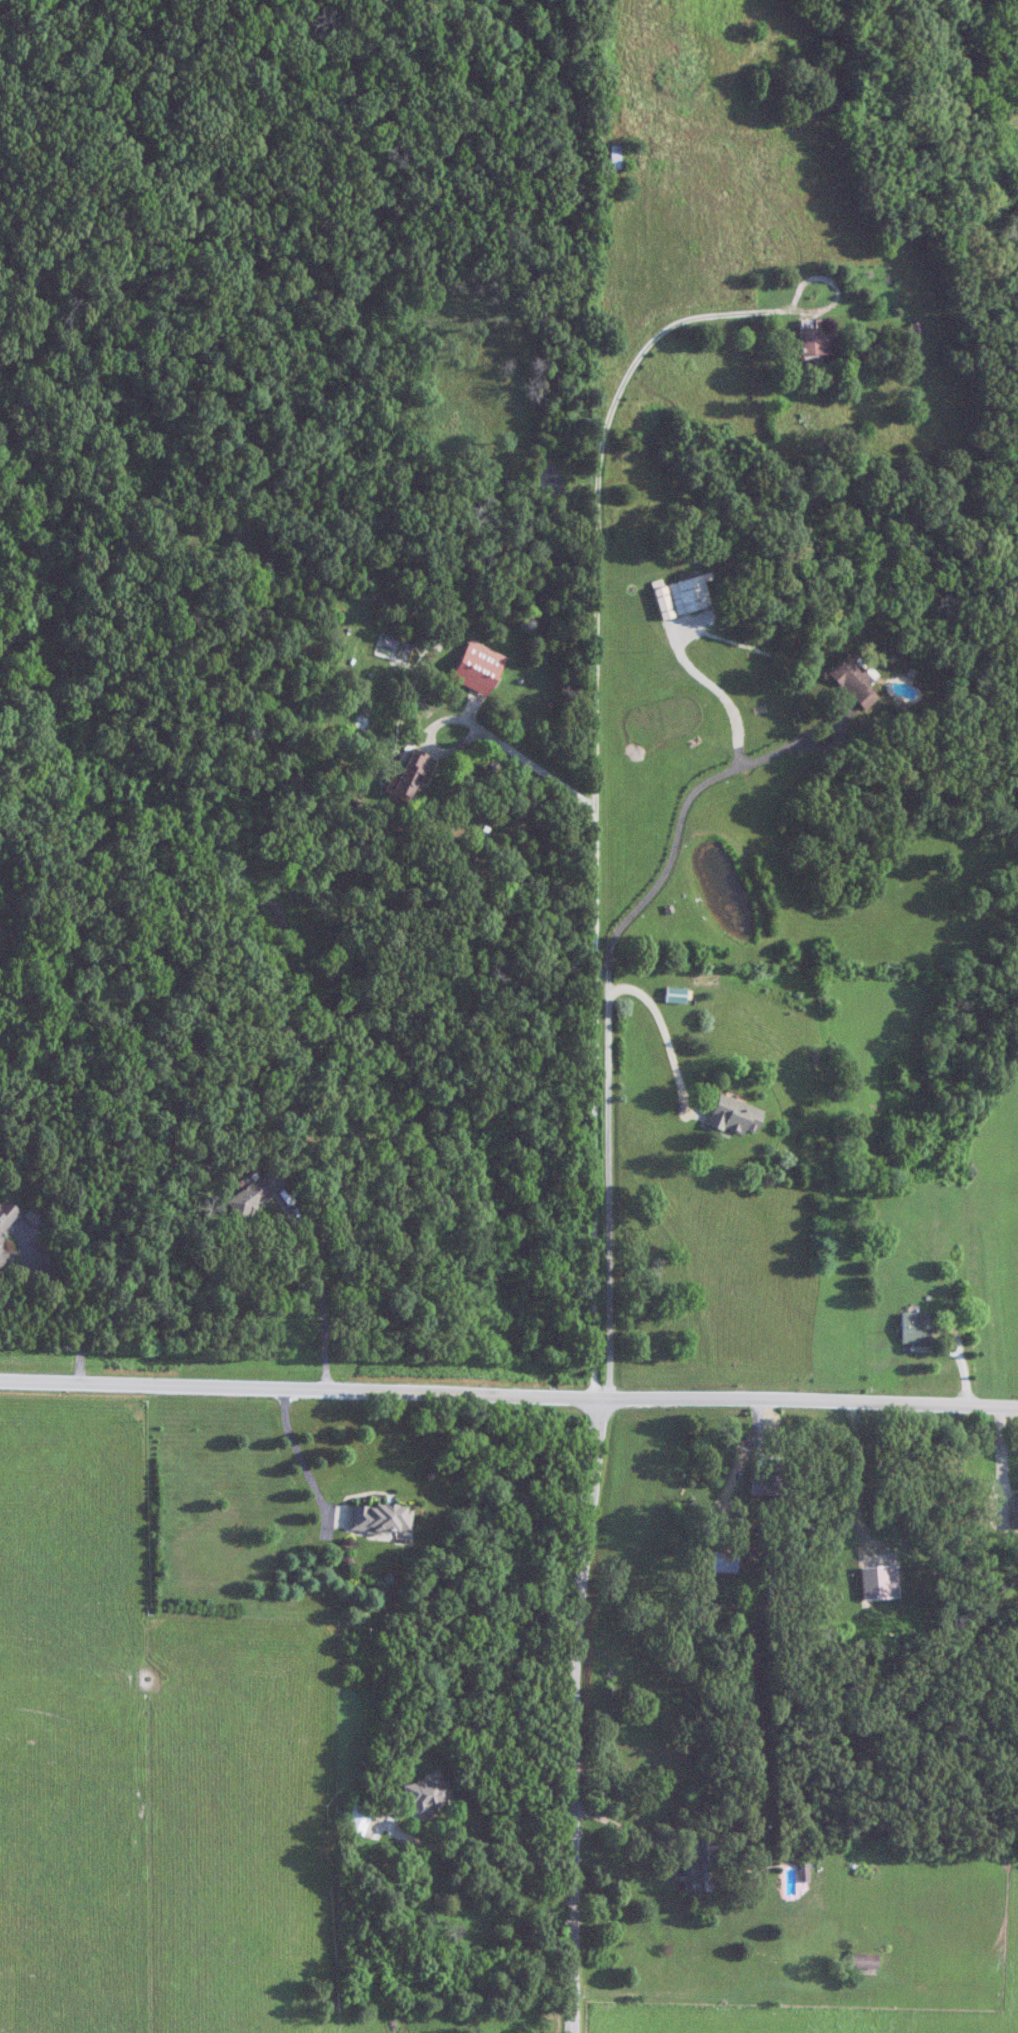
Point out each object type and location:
building: (610, 102)
building: (613, 156)
building: (812, 342)
building: (687, 593)
building: (659, 602)
road: (596, 648)
building: (474, 667)
building: (849, 681)
road: (516, 750)
building: (407, 773)
building: (672, 995)
road: (606, 1017)
road: (663, 1035)
building: (731, 1116)
building: (251, 1193)
building: (5, 1215)
building: (1, 1255)
road: (593, 1258)
road: (319, 1288)
building: (912, 1327)
road: (509, 1390)
road: (297, 1449)
road: (998, 1455)
road: (854, 1473)
building: (768, 1480)
building: (1013, 1510)
building: (376, 1517)
building: (717, 1561)
road: (589, 1715)
building: (424, 1796)
building: (355, 1820)
road: (630, 1829)
building: (696, 1866)
road: (485, 1870)
road: (471, 1930)
building: (860, 1960)

